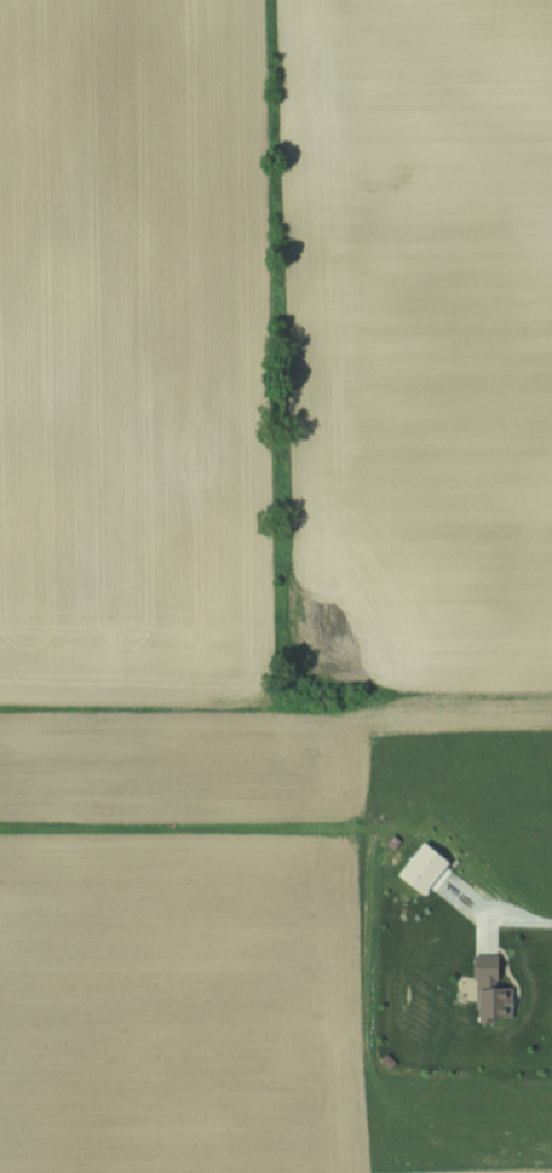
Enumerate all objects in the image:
road: (540, 921)

